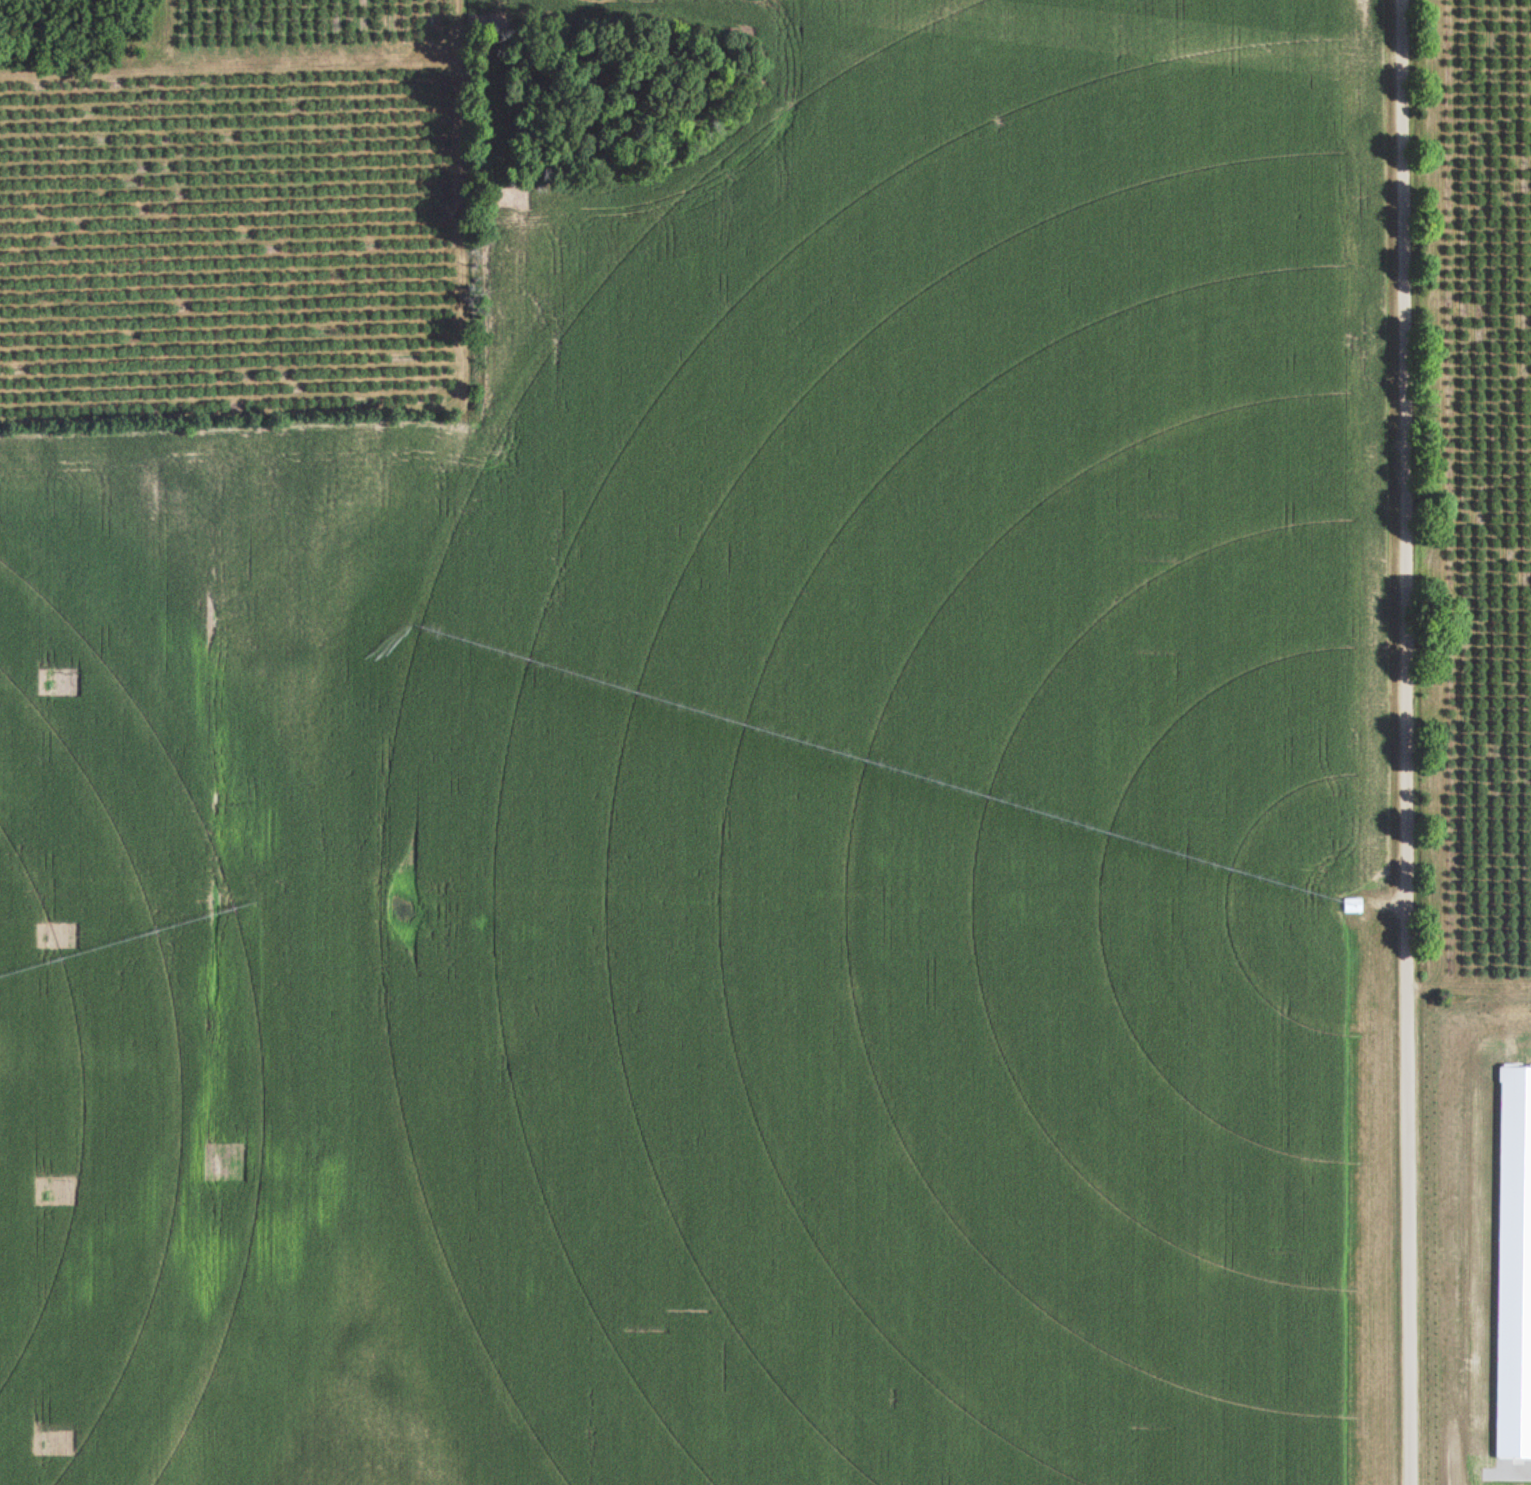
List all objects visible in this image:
road: (1393, 742)
building: (1352, 906)

